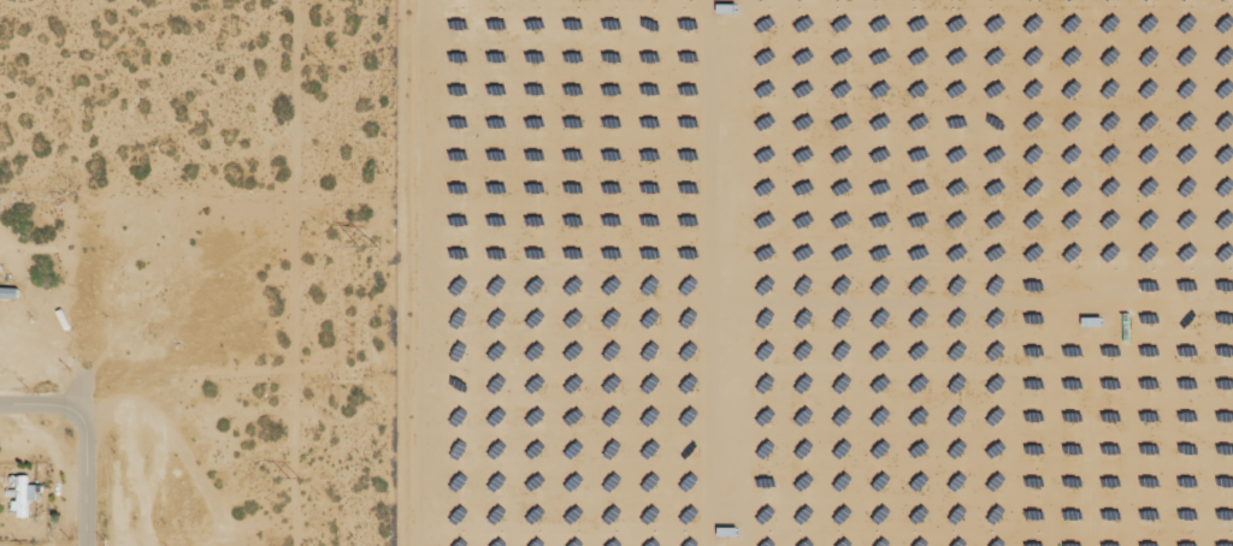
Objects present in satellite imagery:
power tower: (368, 242)
solar farm: (825, 272)
building: (8, 292)
road: (35, 403)
road: (87, 473)
power tower: (294, 479)
building: (23, 498)

